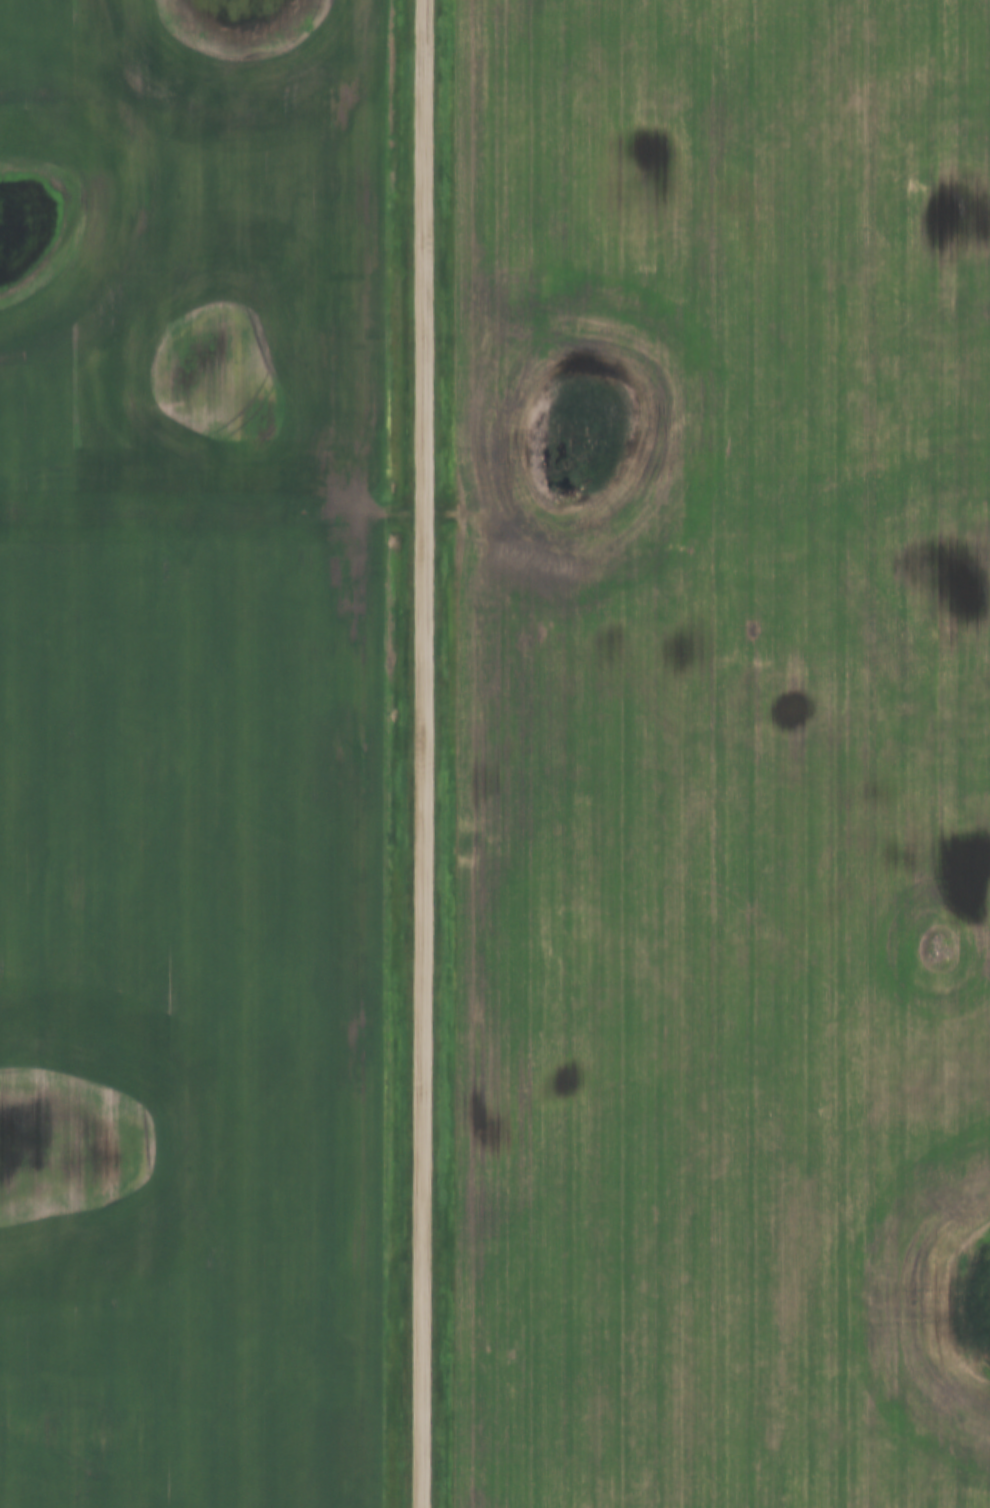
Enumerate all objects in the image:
road: (422, 753)

